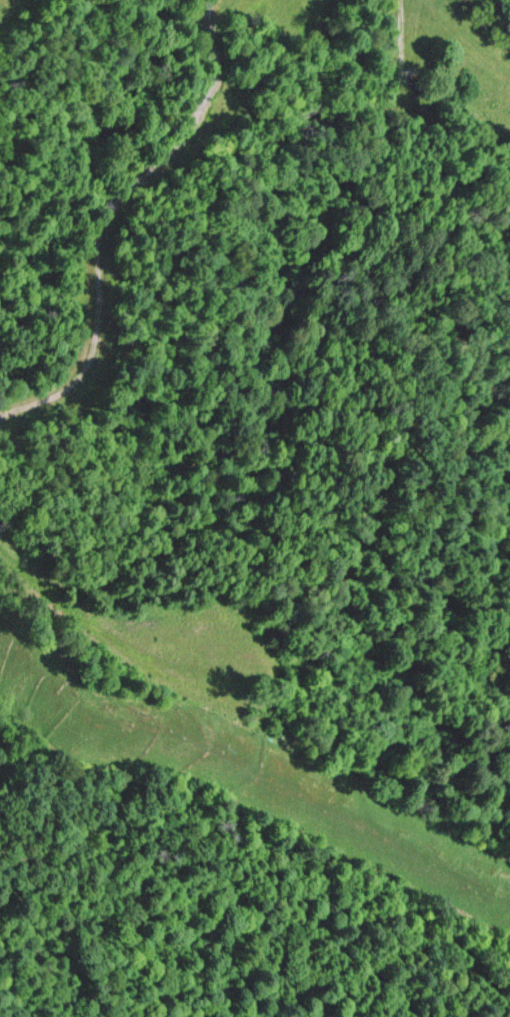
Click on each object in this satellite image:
road: (502, 7)

